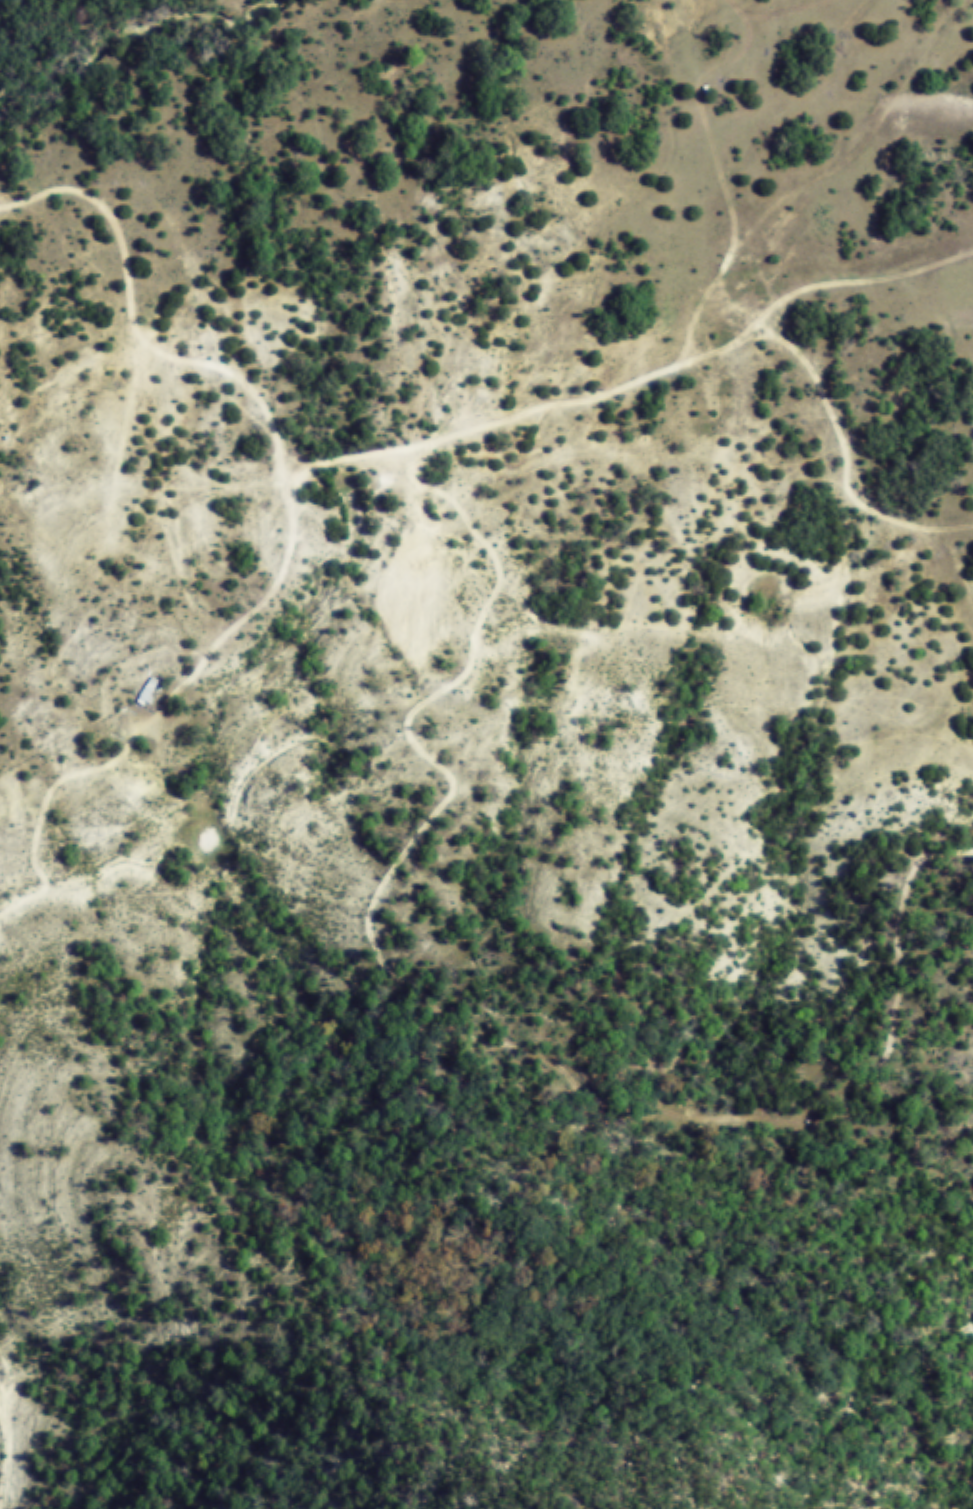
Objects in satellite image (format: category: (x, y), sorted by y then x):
road: (453, 379)
building: (149, 690)

